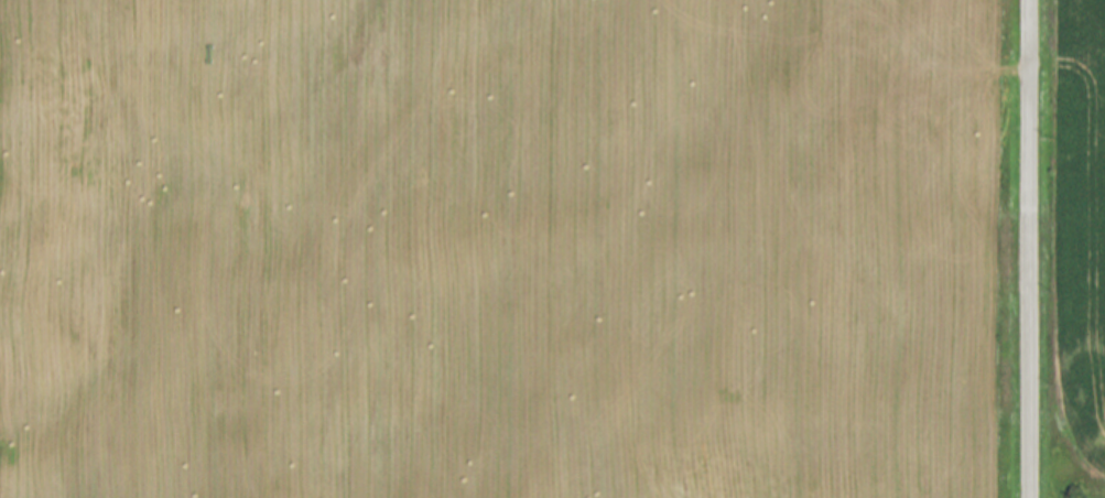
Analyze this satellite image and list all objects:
road: (1027, 249)

